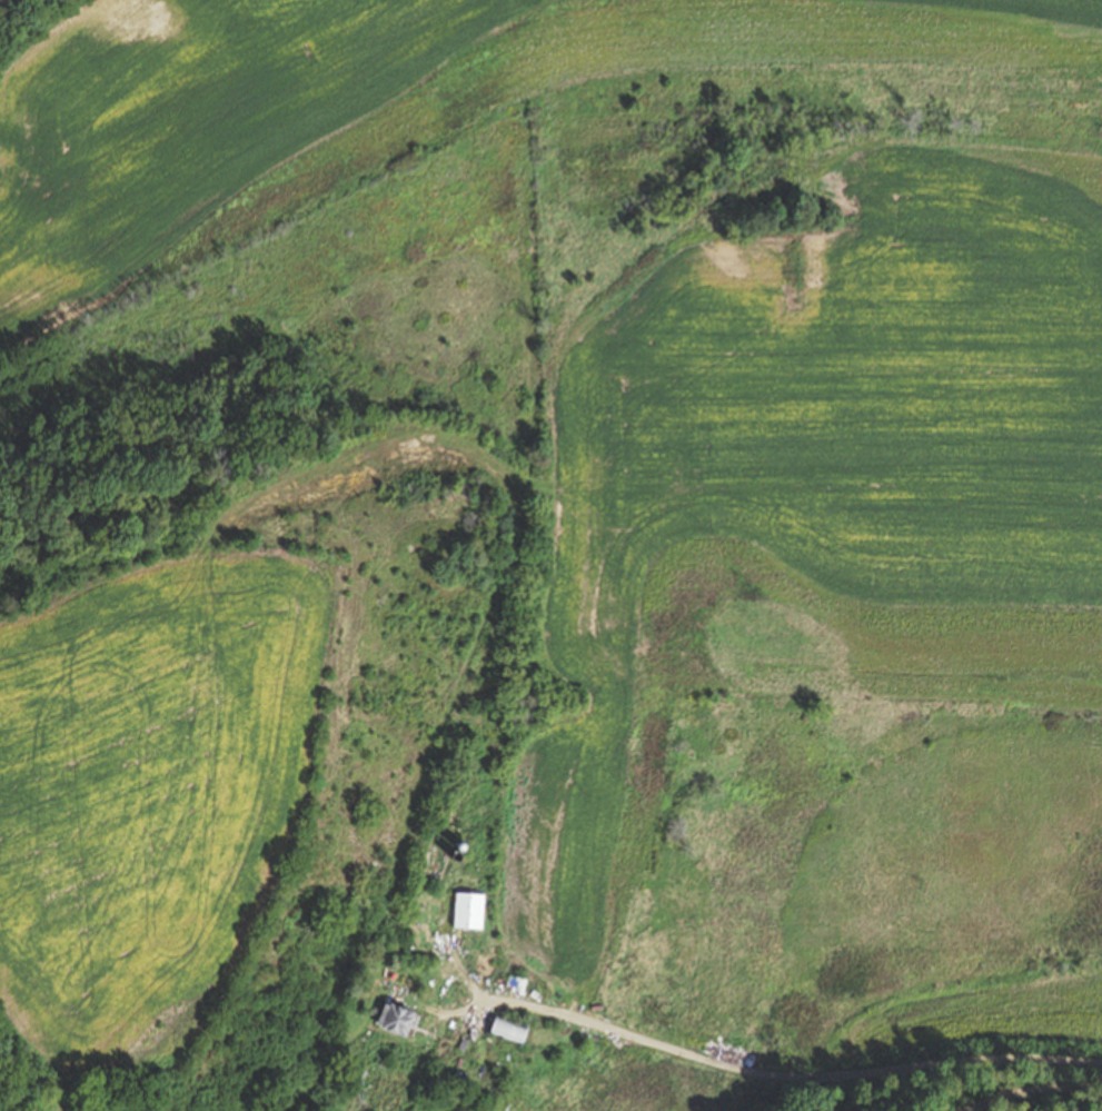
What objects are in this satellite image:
building: (438, 854)
building: (400, 1020)
building: (510, 1031)
road: (763, 1071)
building: (435, 1087)

